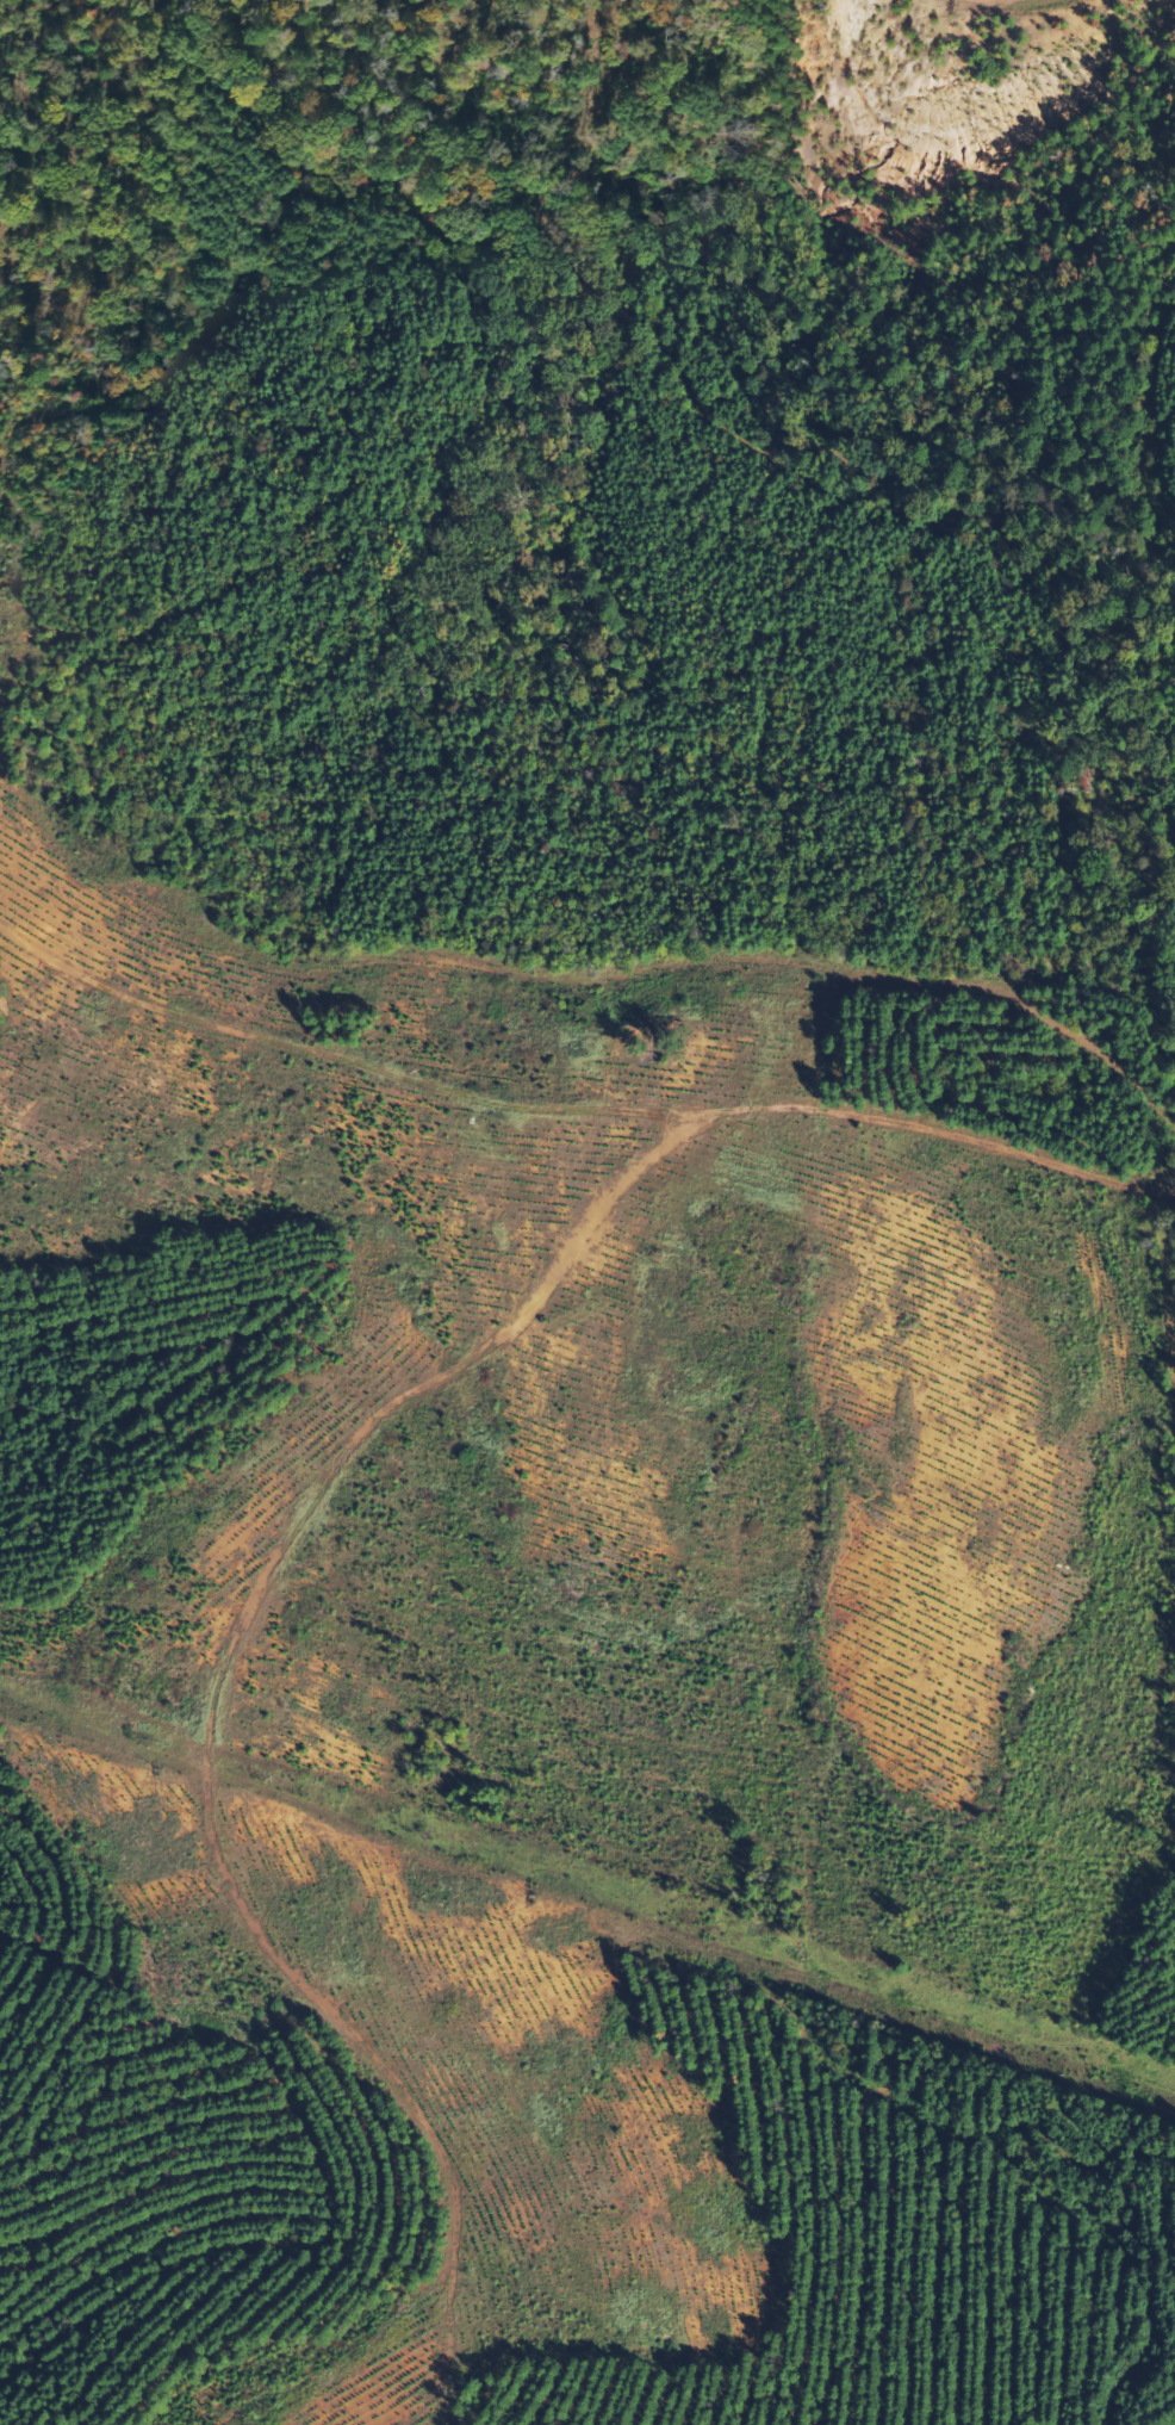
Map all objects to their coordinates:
road: (193, 2375)

